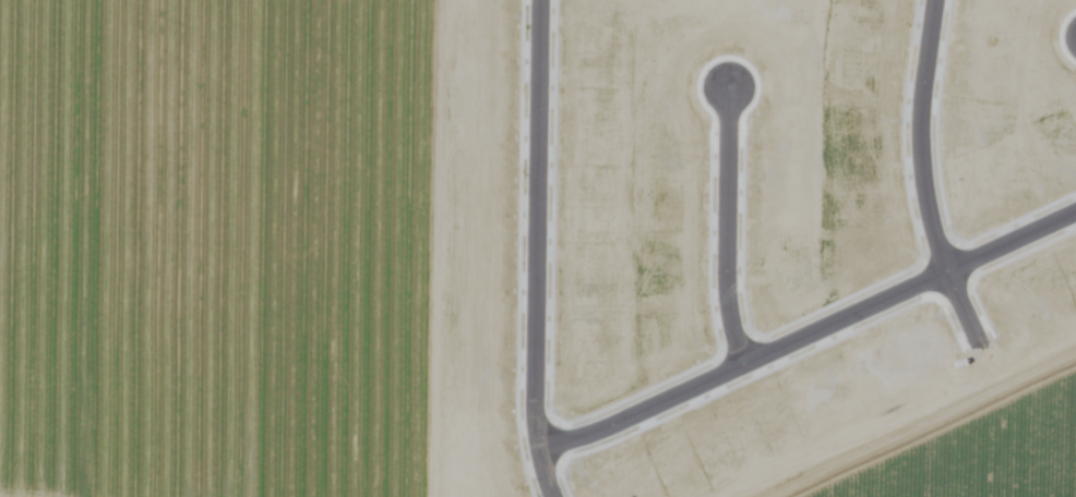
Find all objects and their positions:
road: (917, 179)
road: (721, 231)
road: (535, 248)
crop: (538, 248)
road: (806, 337)

